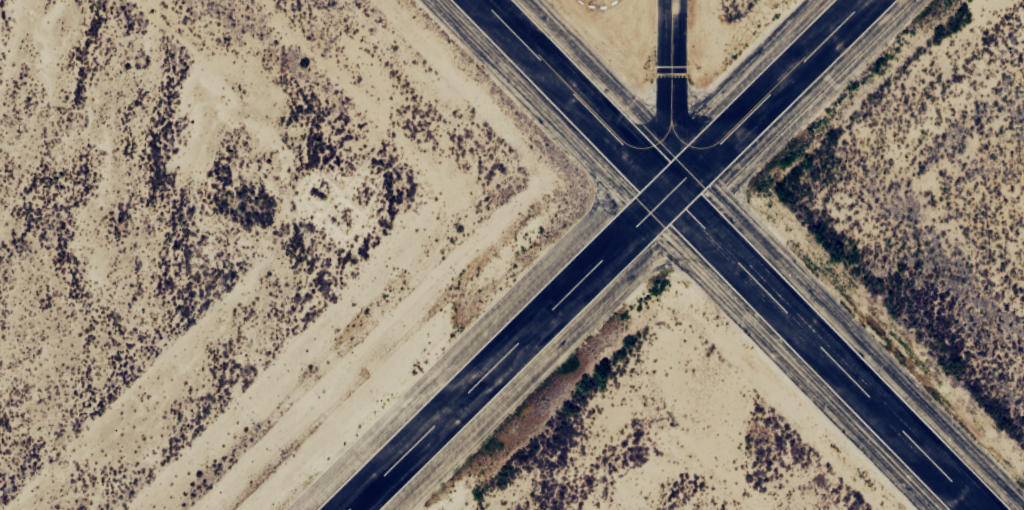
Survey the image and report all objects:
airport taxiway: (670, 97)
airport runway: (608, 254)
airport runway: (729, 254)

